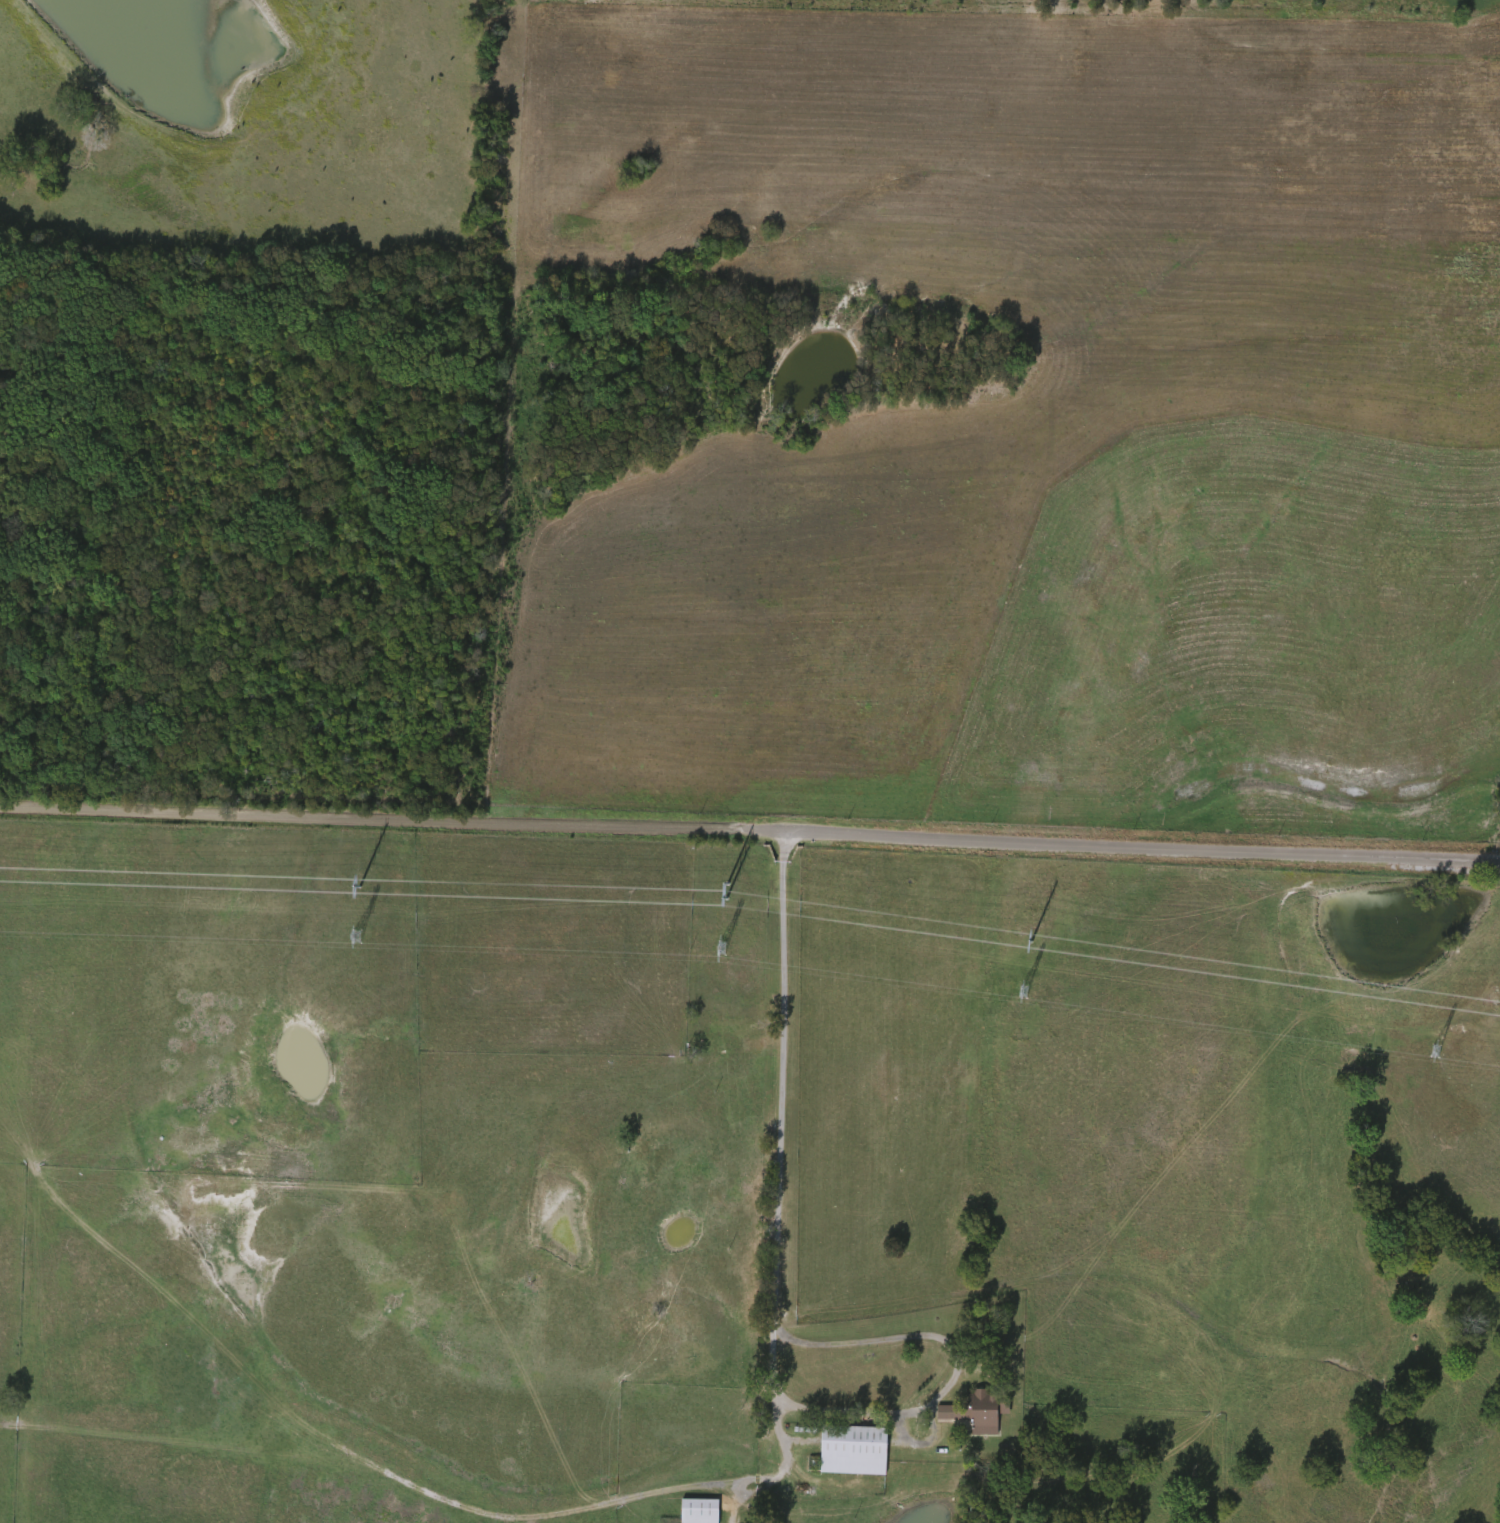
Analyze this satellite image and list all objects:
road: (750, 833)
power tower: (358, 887)
power tower: (726, 900)
power tower: (1031, 943)
road: (190, 1169)
road: (778, 1204)
road: (957, 1370)
building: (984, 1413)
building: (855, 1451)
road: (730, 1506)
building: (704, 1512)

